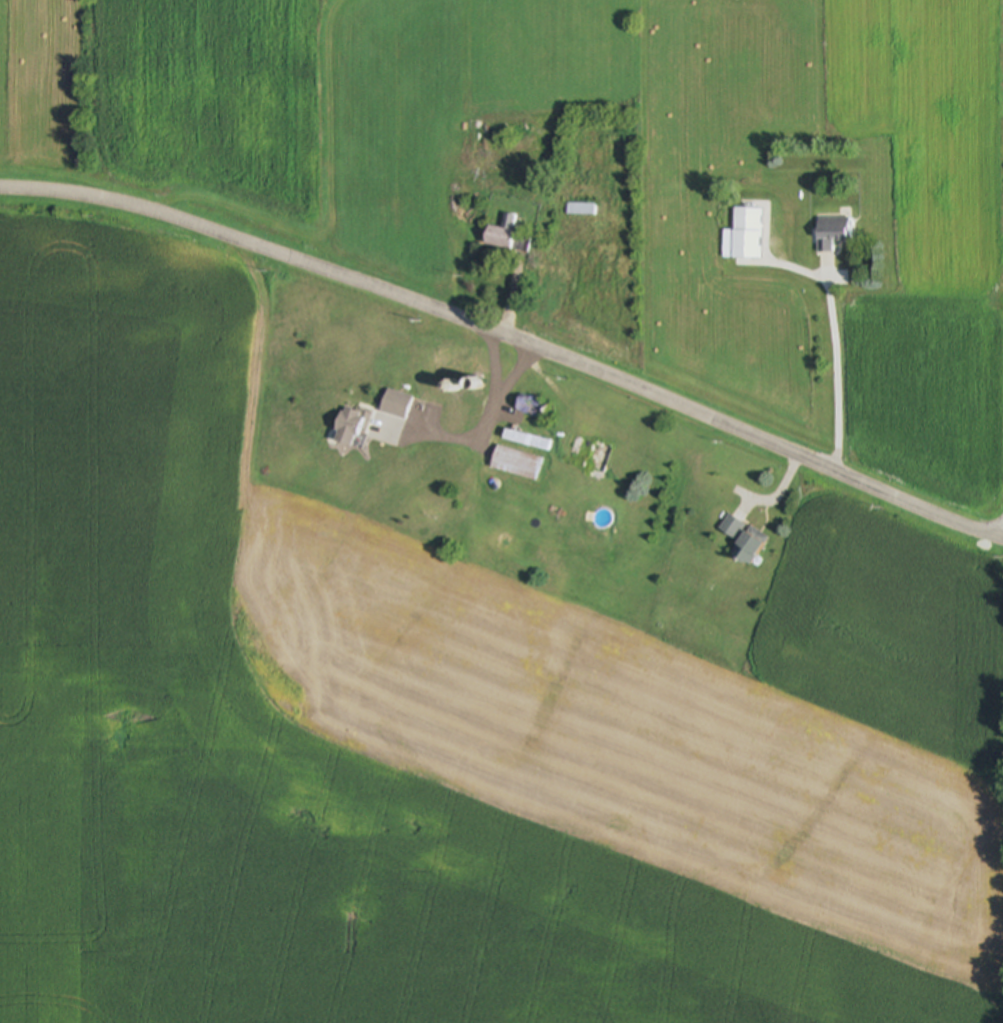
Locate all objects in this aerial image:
building: (579, 210)
building: (831, 233)
building: (743, 236)
building: (500, 239)
road: (511, 337)
road: (490, 364)
road: (836, 380)
building: (395, 405)
building: (532, 407)
road: (486, 413)
building: (451, 415)
building: (347, 428)
building: (526, 441)
building: (516, 464)
building: (743, 540)

